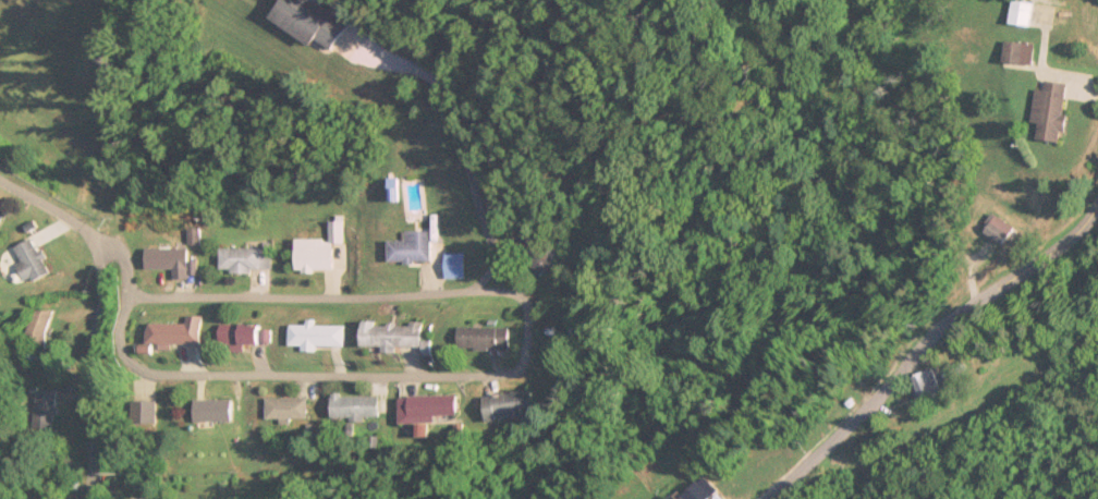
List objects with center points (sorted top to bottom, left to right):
building: (1025, 13)
building: (314, 22)
building: (1020, 53)
building: (1054, 112)
building: (2, 214)
building: (1003, 229)
building: (413, 247)
building: (316, 254)
building: (168, 258)
building: (245, 259)
building: (455, 265)
road: (111, 305)
building: (44, 329)
road: (548, 331)
building: (184, 332)
building: (252, 334)
building: (324, 336)
building: (403, 337)
building: (492, 339)
road: (927, 339)
building: (932, 384)
building: (511, 405)
building: (357, 406)
building: (46, 407)
building: (289, 407)
building: (430, 409)
building: (217, 410)
building: (704, 490)

